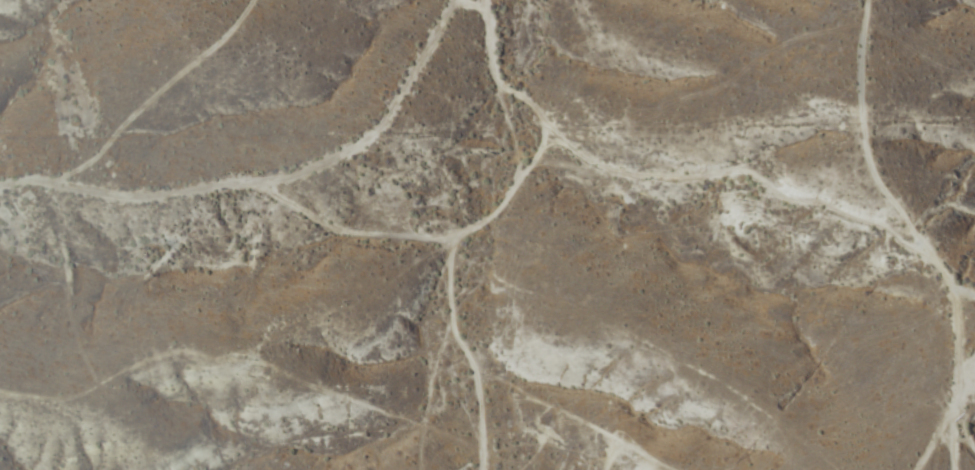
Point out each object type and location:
road: (895, 236)

